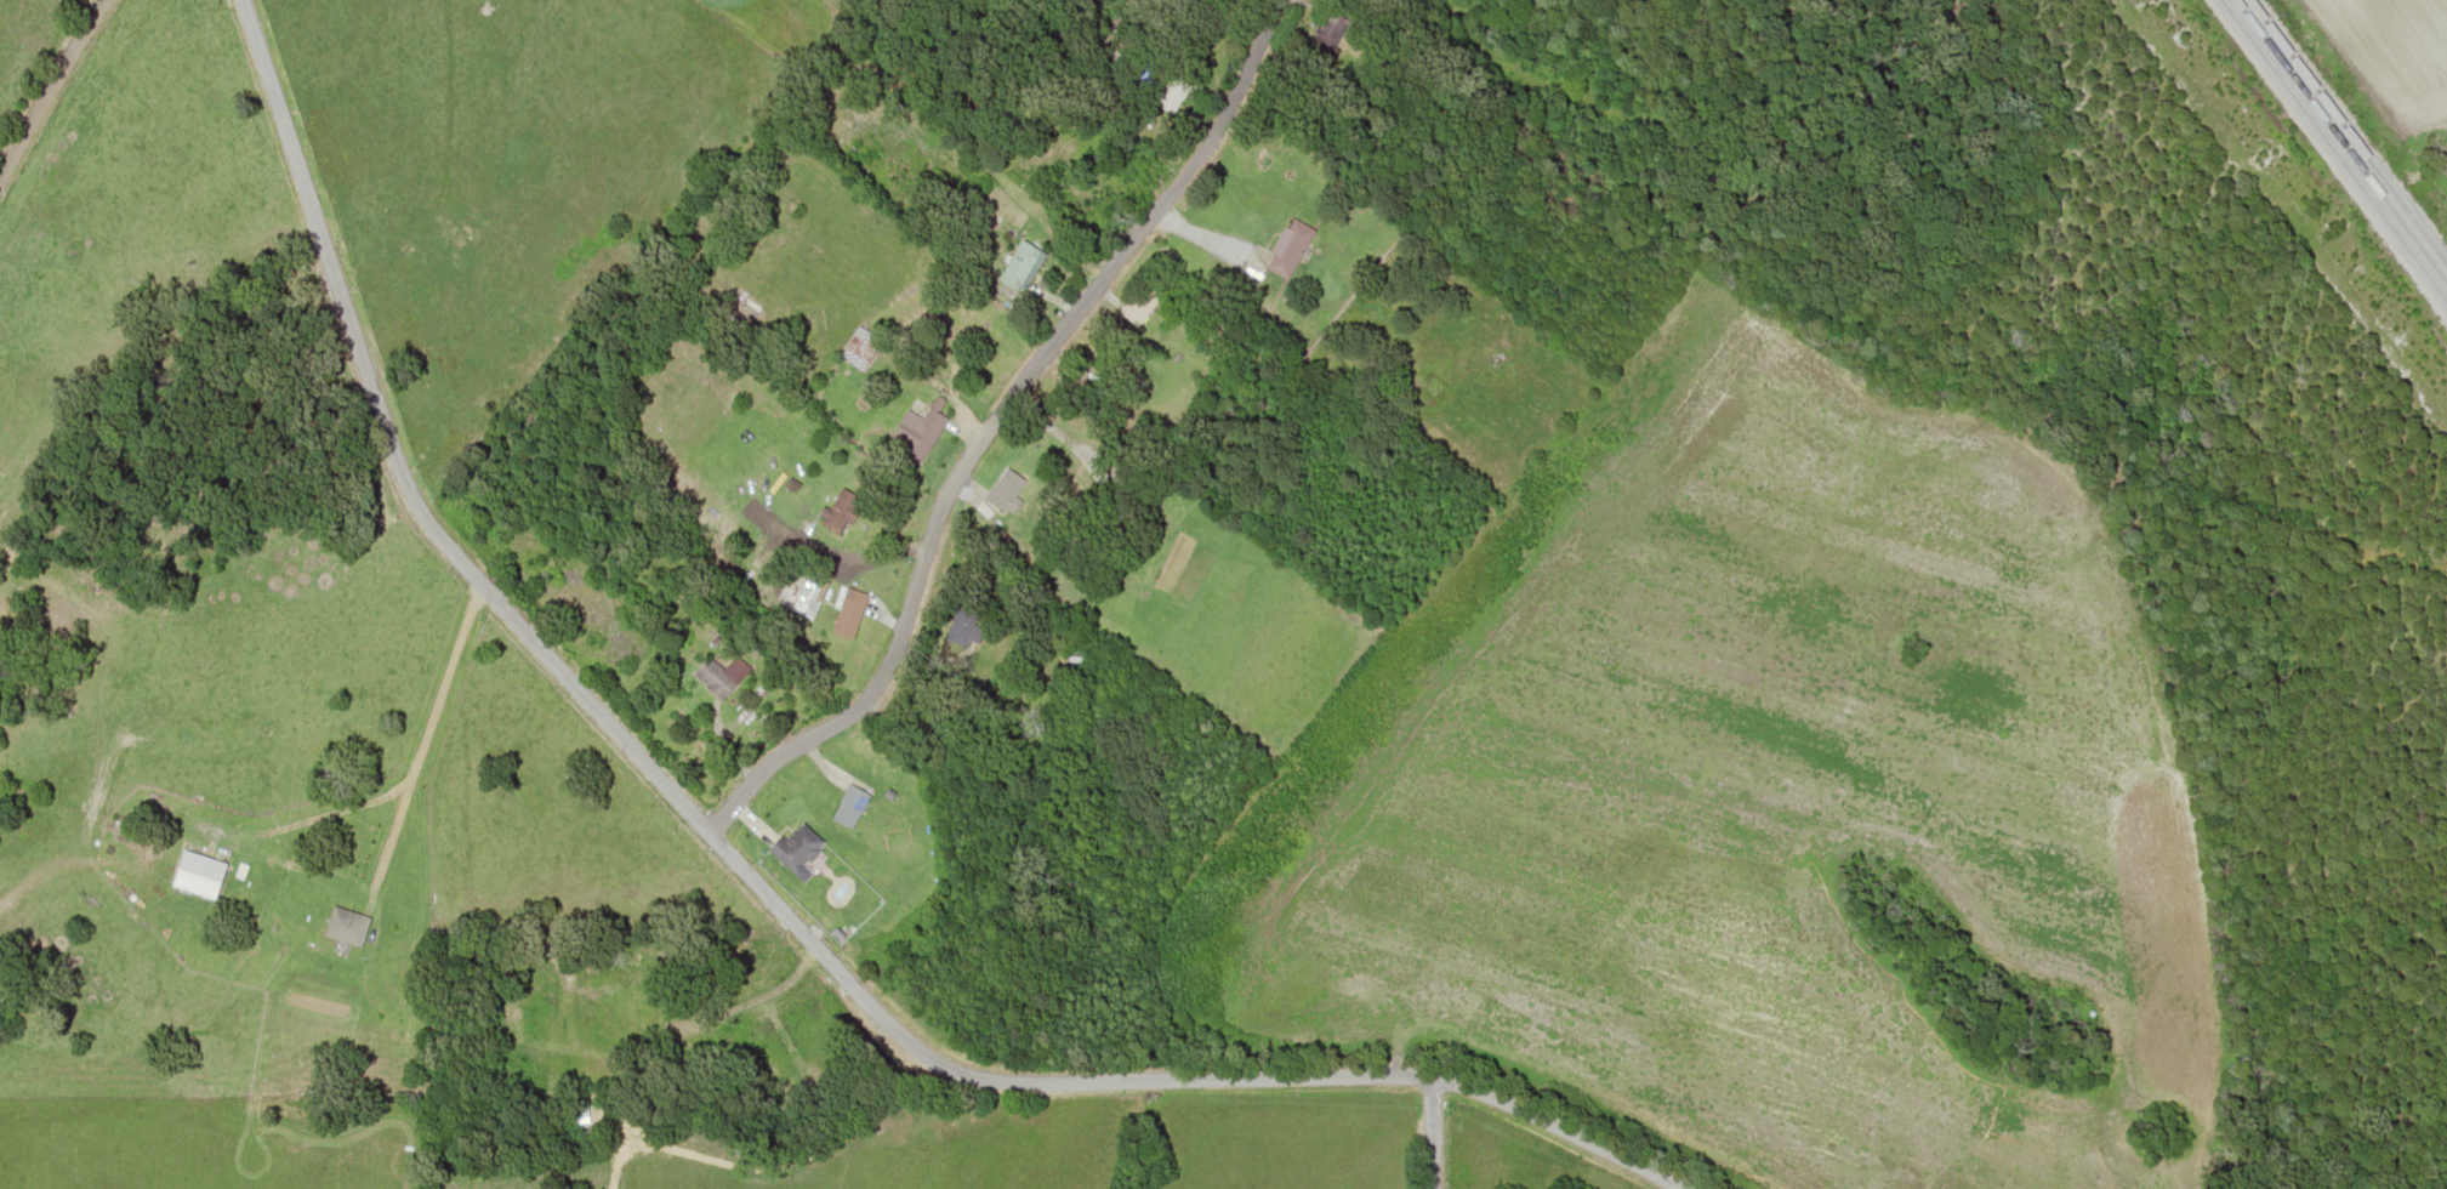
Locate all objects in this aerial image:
building: (1327, 25)
road: (49, 85)
building: (1168, 89)
building: (837, 126)
railway: (2333, 150)
building: (1290, 243)
building: (1020, 264)
building: (1138, 302)
building: (859, 347)
road: (989, 422)
building: (917, 429)
building: (1003, 489)
building: (840, 511)
building: (844, 618)
building: (960, 625)
building: (721, 675)
building: (848, 806)
building: (795, 847)
building: (198, 874)
road: (750, 886)
building: (345, 926)
road: (1429, 1132)

